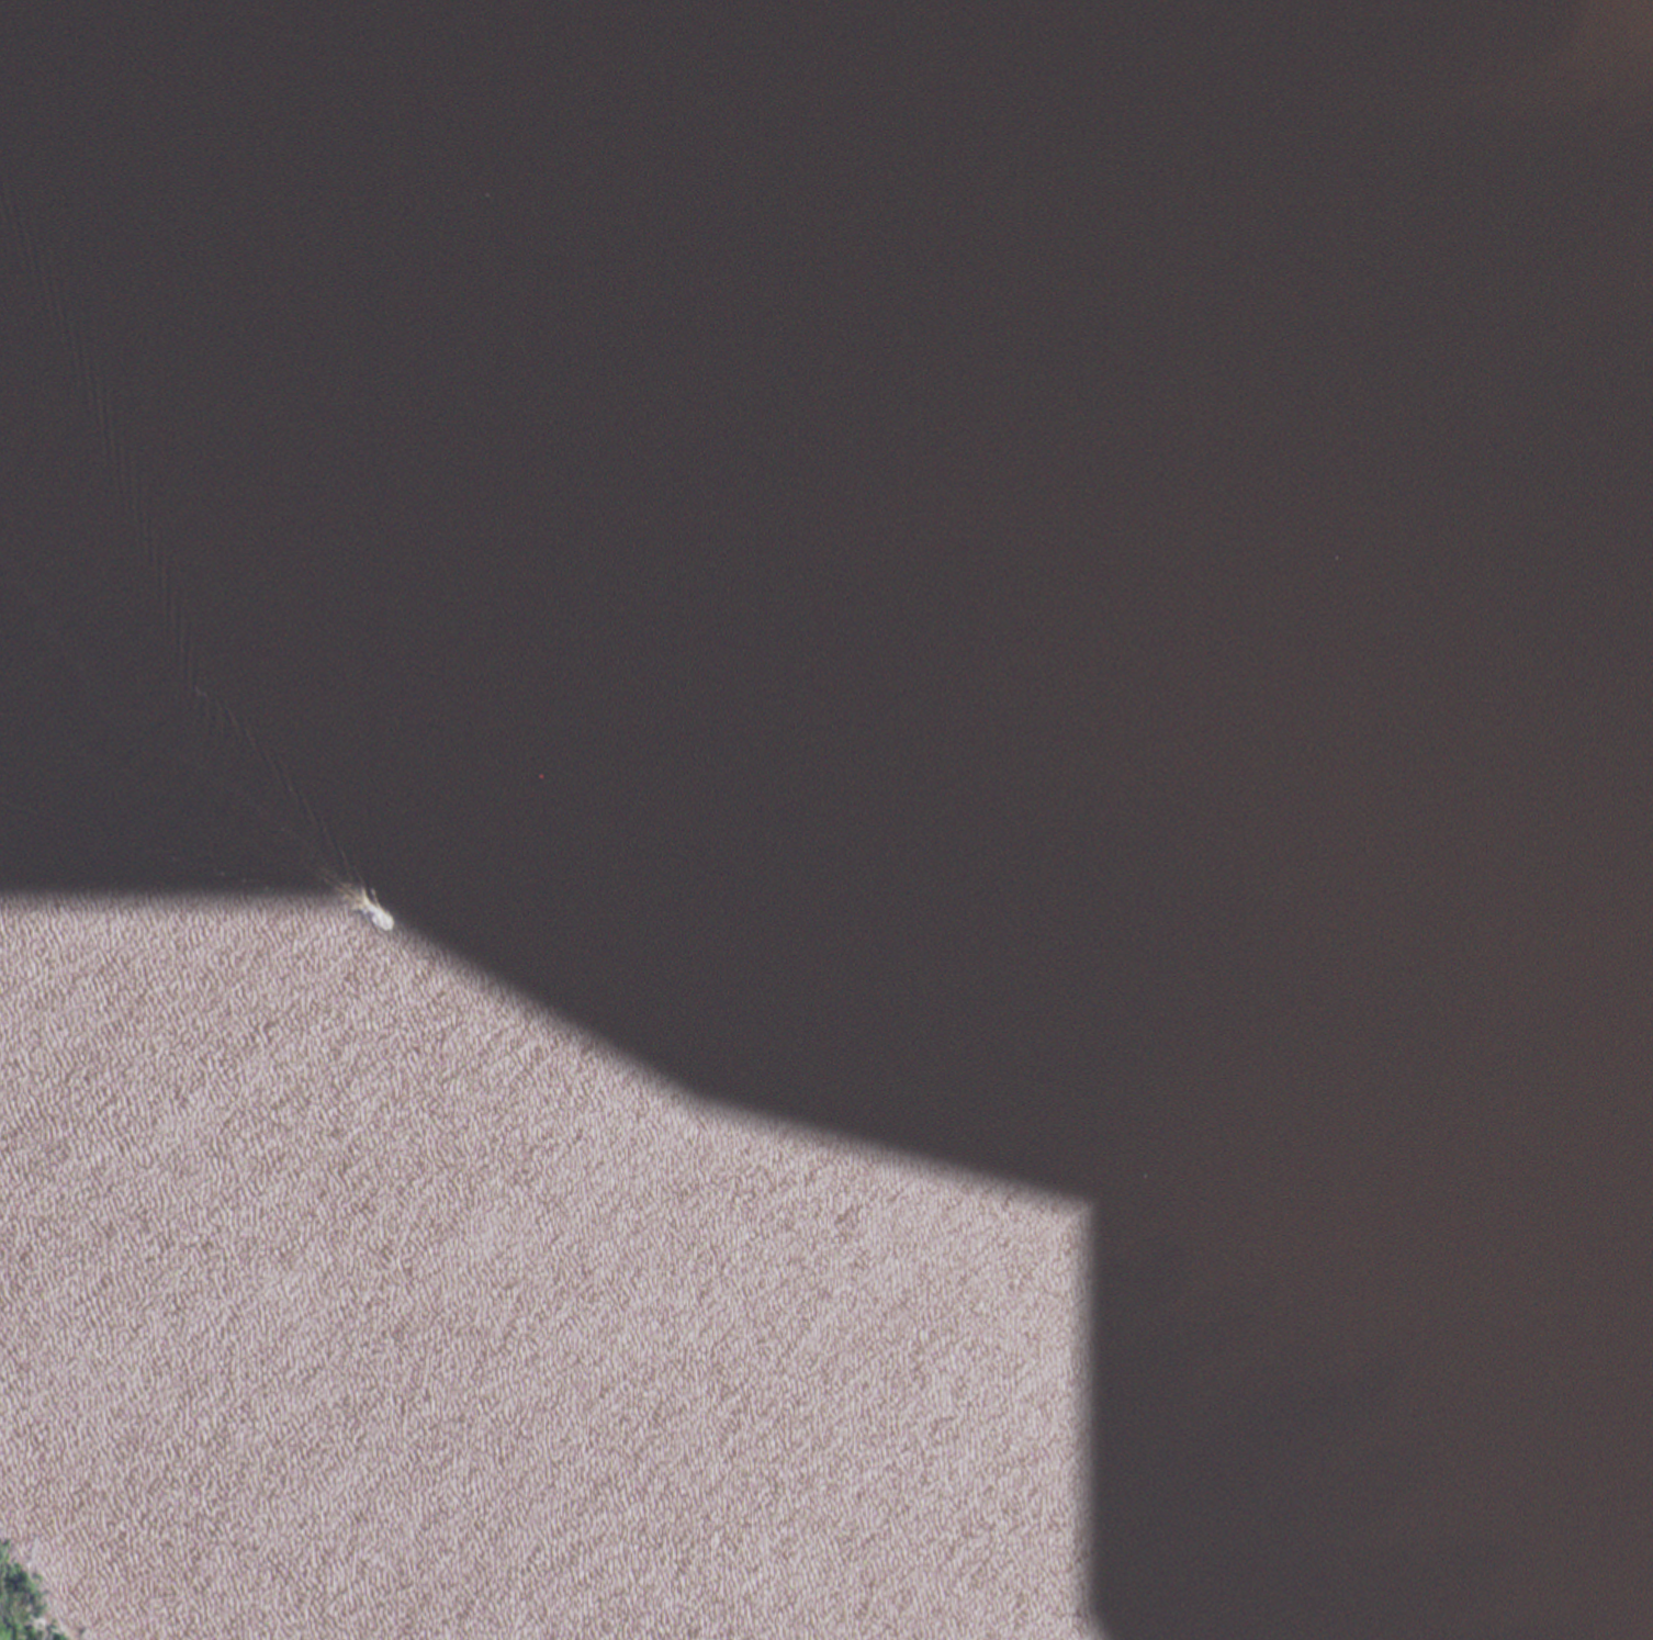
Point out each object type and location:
park: (52, 1577)

